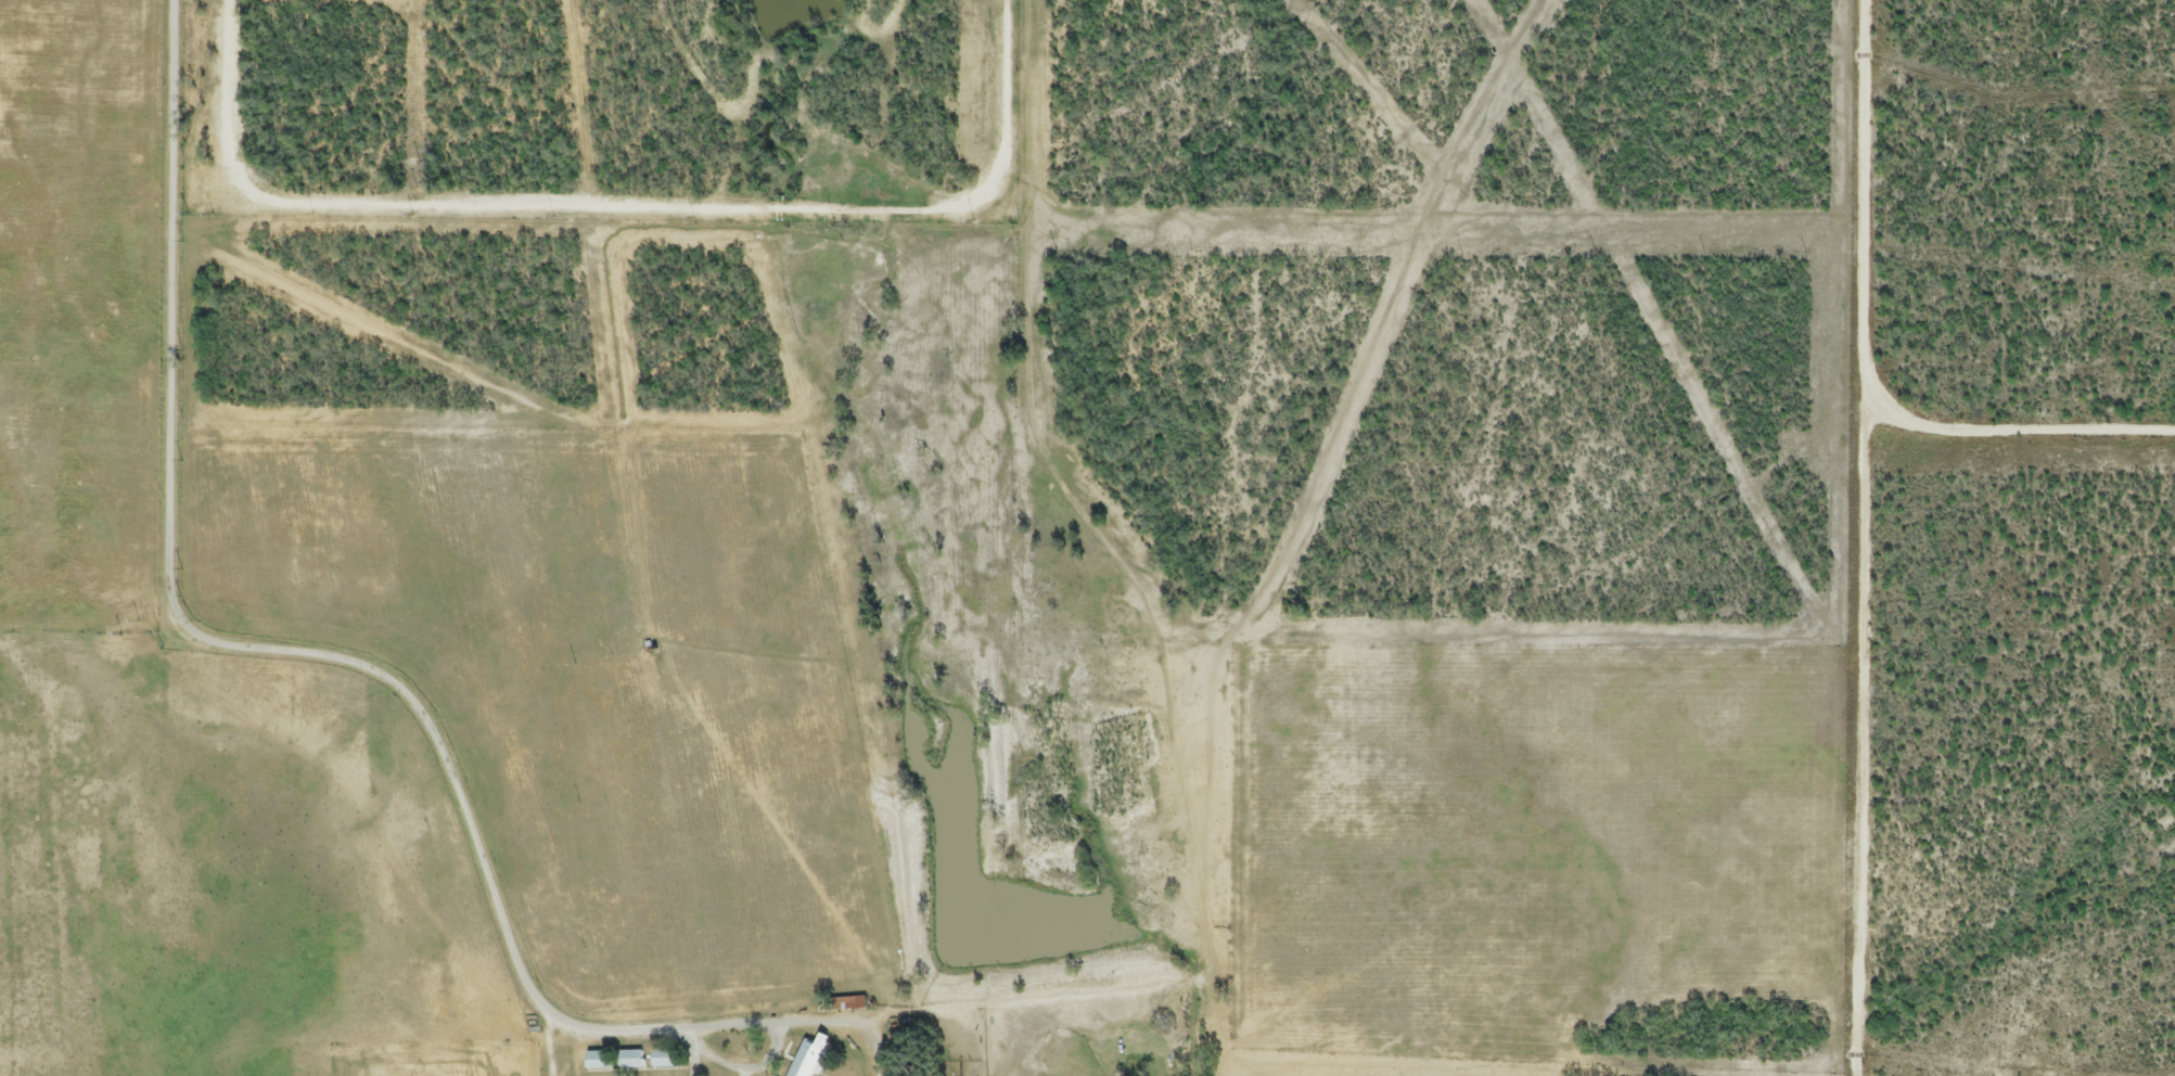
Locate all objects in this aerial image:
road: (616, 203)
road: (2016, 430)
road: (1855, 538)
road: (229, 644)
road: (792, 1016)
road: (547, 1045)
building: (808, 1059)
building: (663, 1060)
building: (630, 1061)
building: (598, 1062)
road: (731, 1064)

